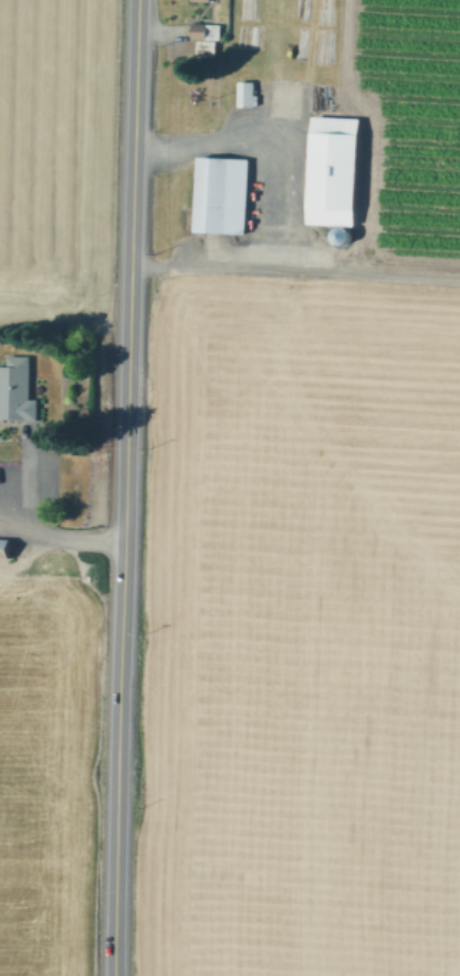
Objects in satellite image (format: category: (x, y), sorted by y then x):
building: (204, 1)
building: (207, 31)
building: (208, 49)
building: (247, 94)
building: (303, 95)
road: (275, 117)
building: (338, 171)
building: (224, 195)
road: (275, 202)
building: (345, 237)
silo: (345, 237)
road: (340, 269)
road: (67, 324)
building: (17, 392)
road: (124, 487)
crop: (230, 488)
road: (34, 524)
road: (20, 526)
building: (5, 550)

